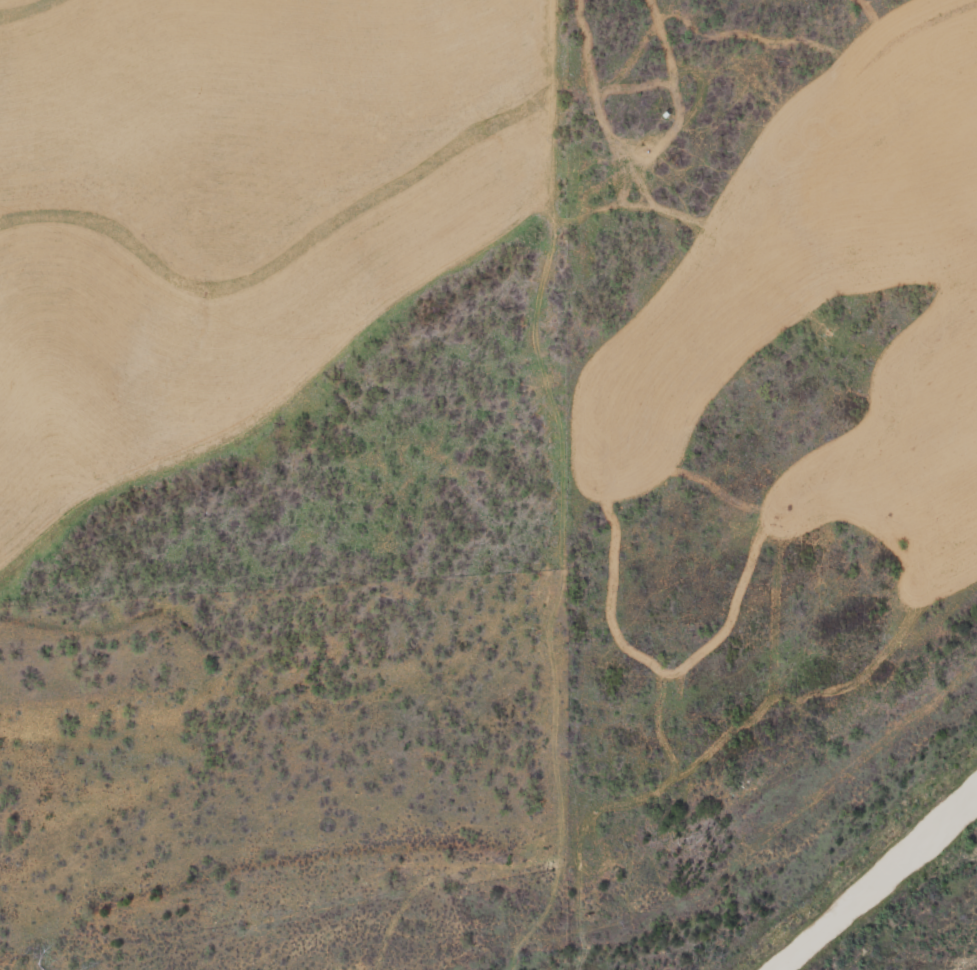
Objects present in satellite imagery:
road: (559, 484)

